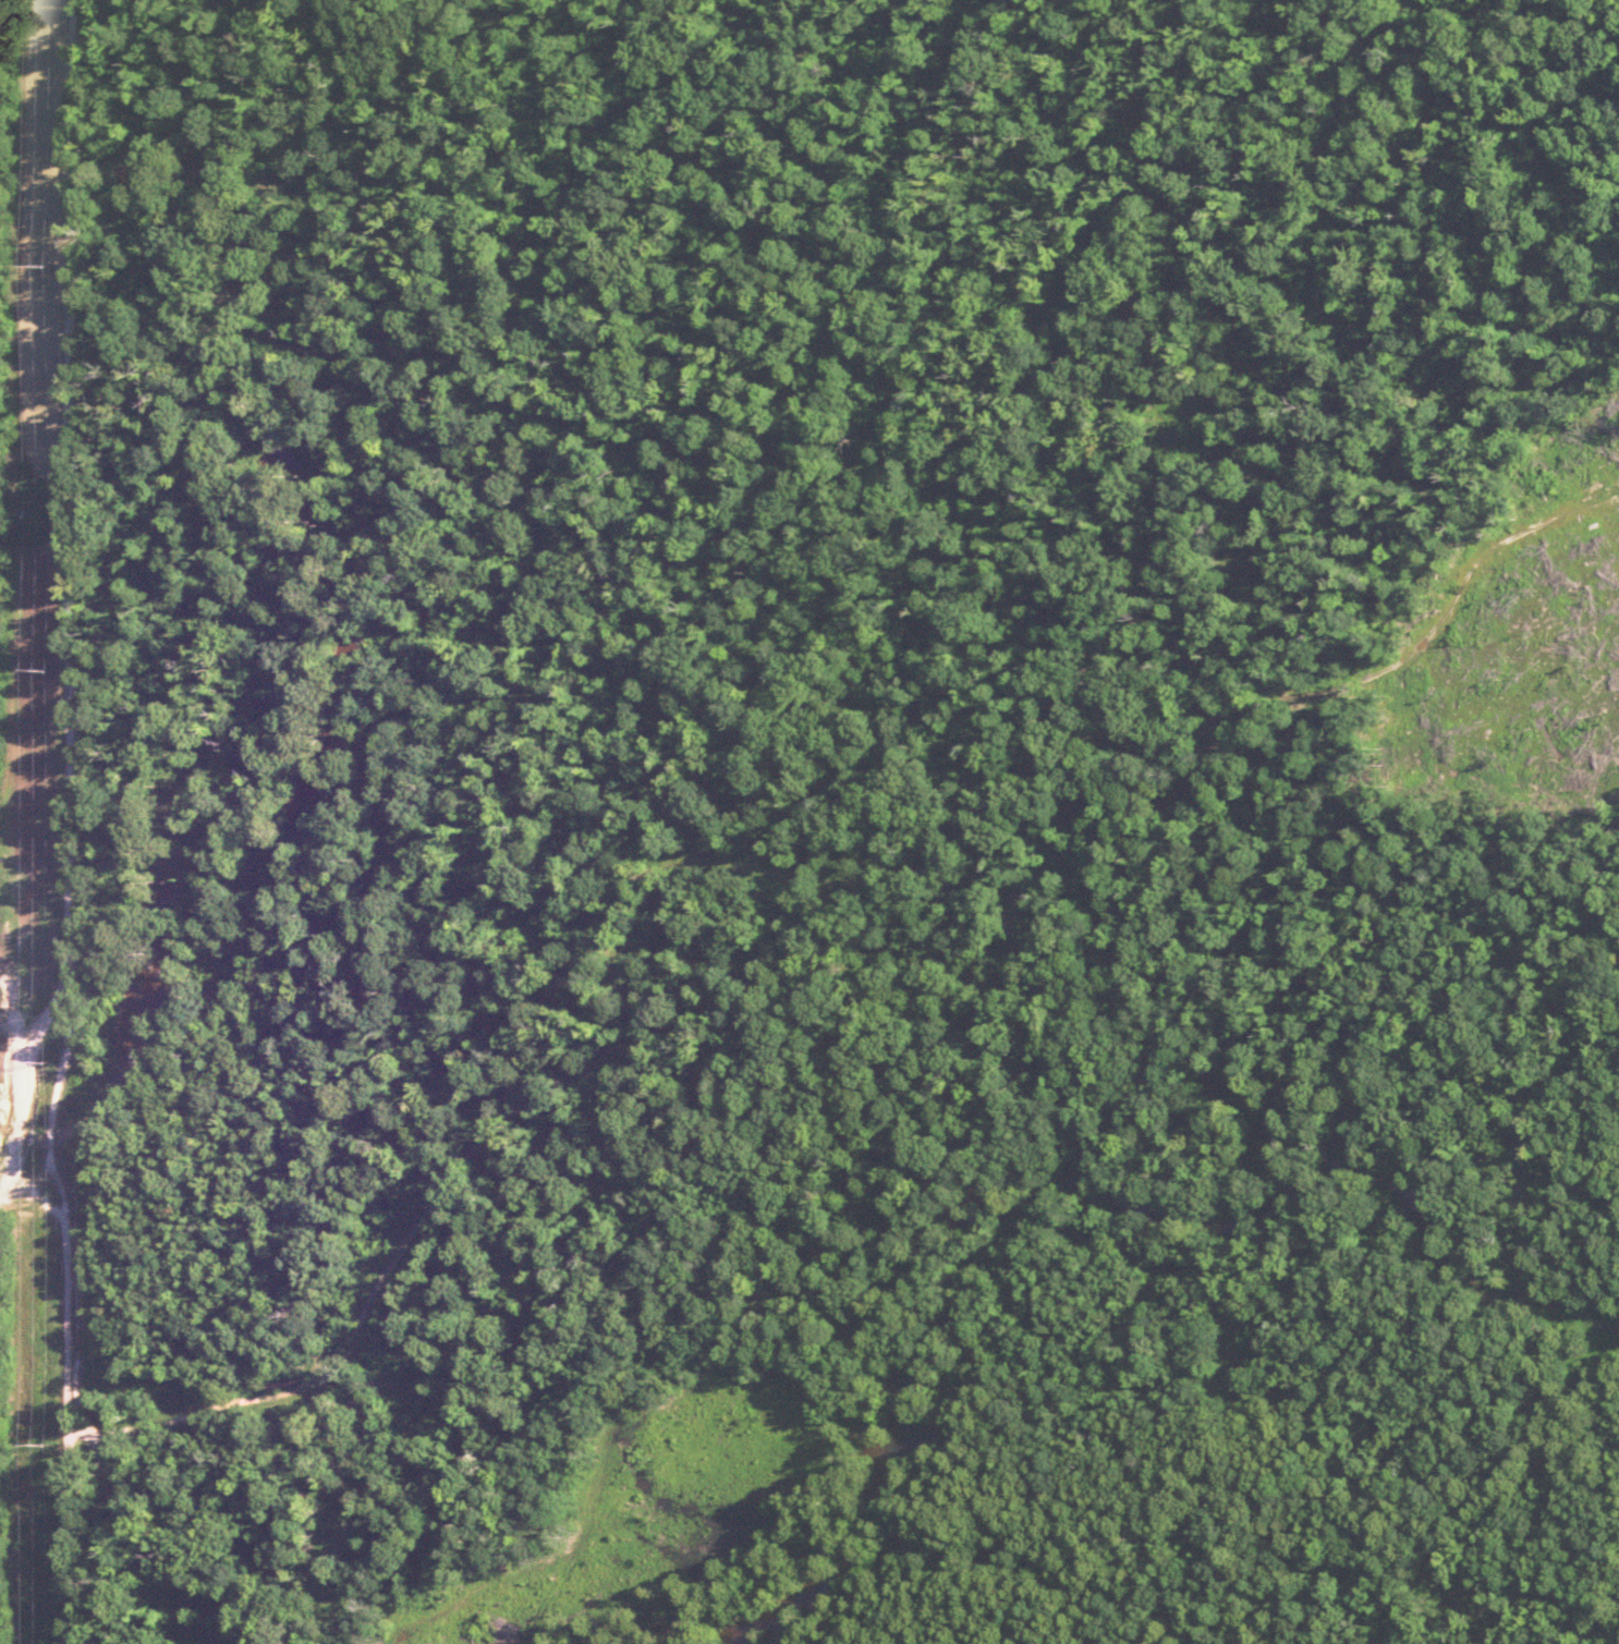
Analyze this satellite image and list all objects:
power tower: (46, 265)
power tower: (44, 668)
power tower: (44, 1060)
power tower: (45, 1442)

